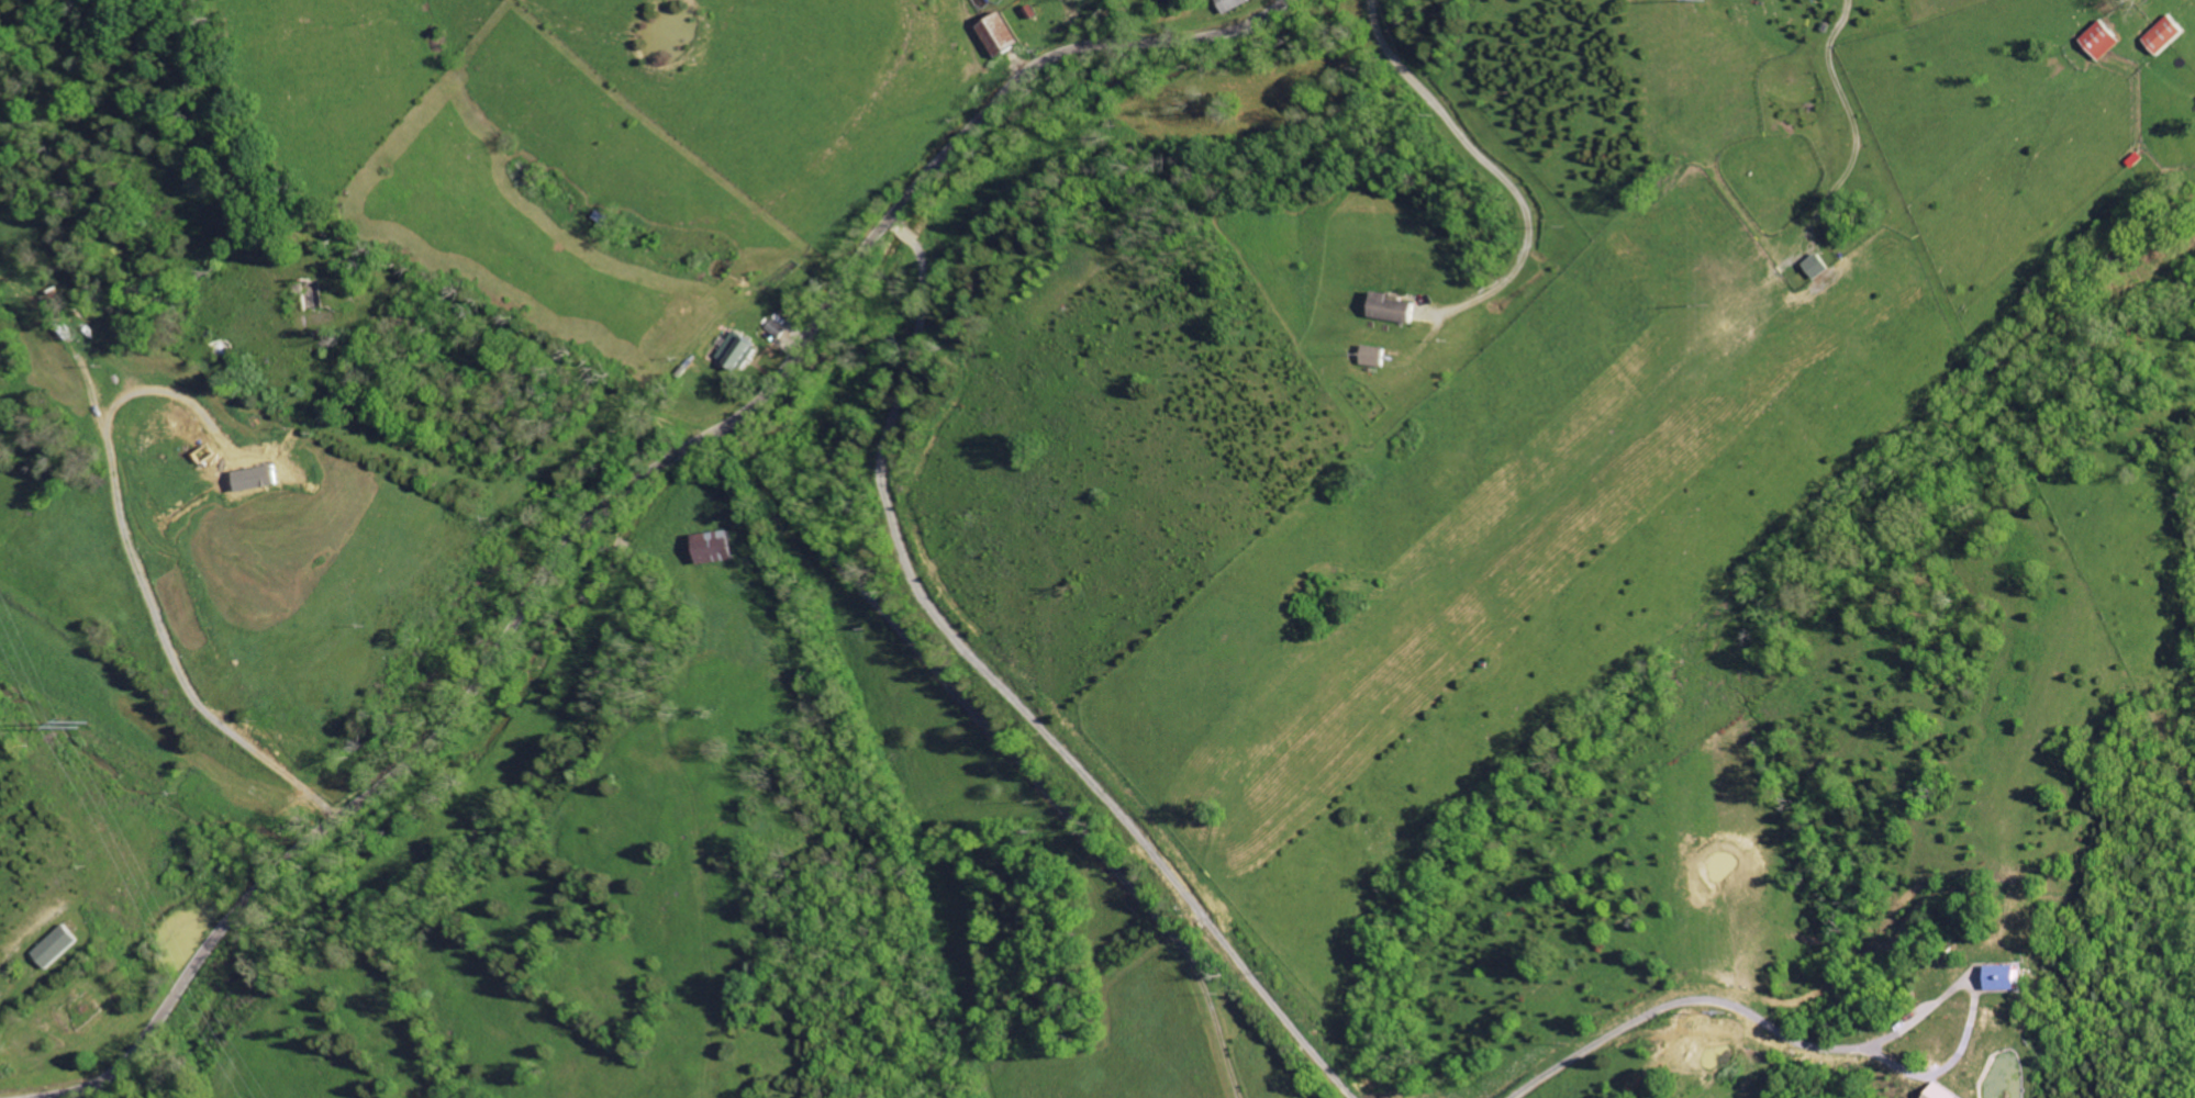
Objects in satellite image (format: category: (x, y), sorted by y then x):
building: (1238, 3)
building: (1007, 34)
building: (2158, 36)
building: (2094, 42)
road: (1490, 167)
building: (1394, 307)
building: (744, 349)
road: (627, 495)
road: (1000, 696)
road: (1002, 751)
building: (60, 945)
building: (2007, 977)
road: (1679, 1001)
road: (1974, 1011)
building: (1946, 1093)
road: (60, 1095)

